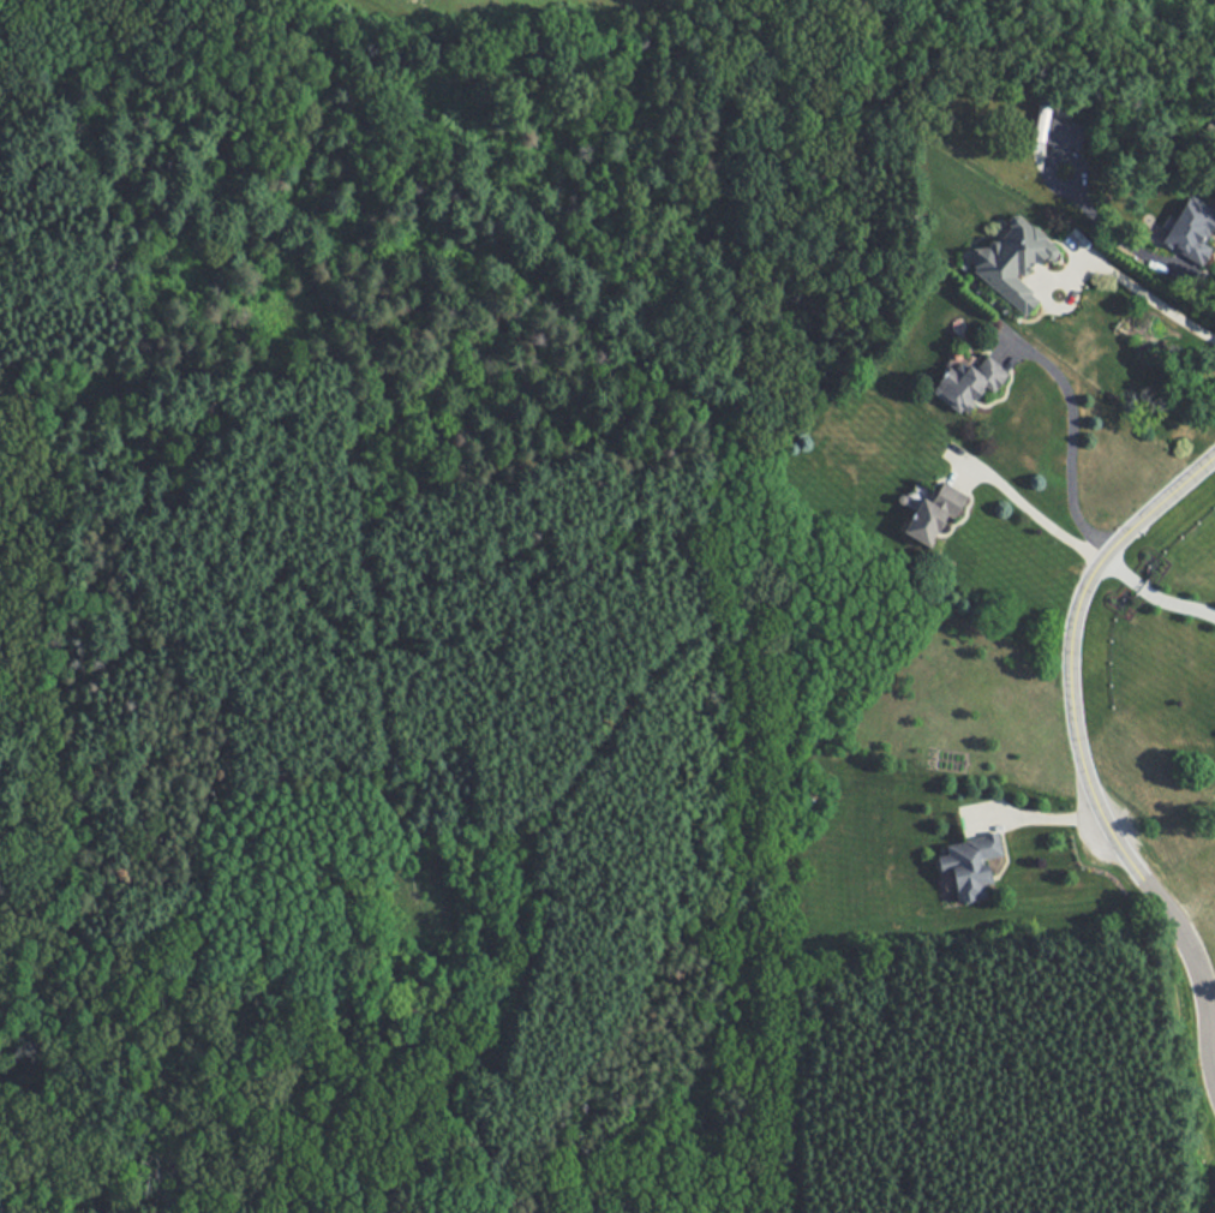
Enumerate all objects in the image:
building: (1066, 131)
road: (1063, 149)
building: (1191, 231)
road: (1138, 240)
building: (1015, 259)
road: (1136, 288)
building: (971, 381)
road: (1070, 440)
road: (1030, 510)
road: (1153, 593)
road: (1072, 629)
park: (441, 676)
road: (1031, 808)
building: (968, 861)
road: (1193, 954)
road: (1181, 1063)

